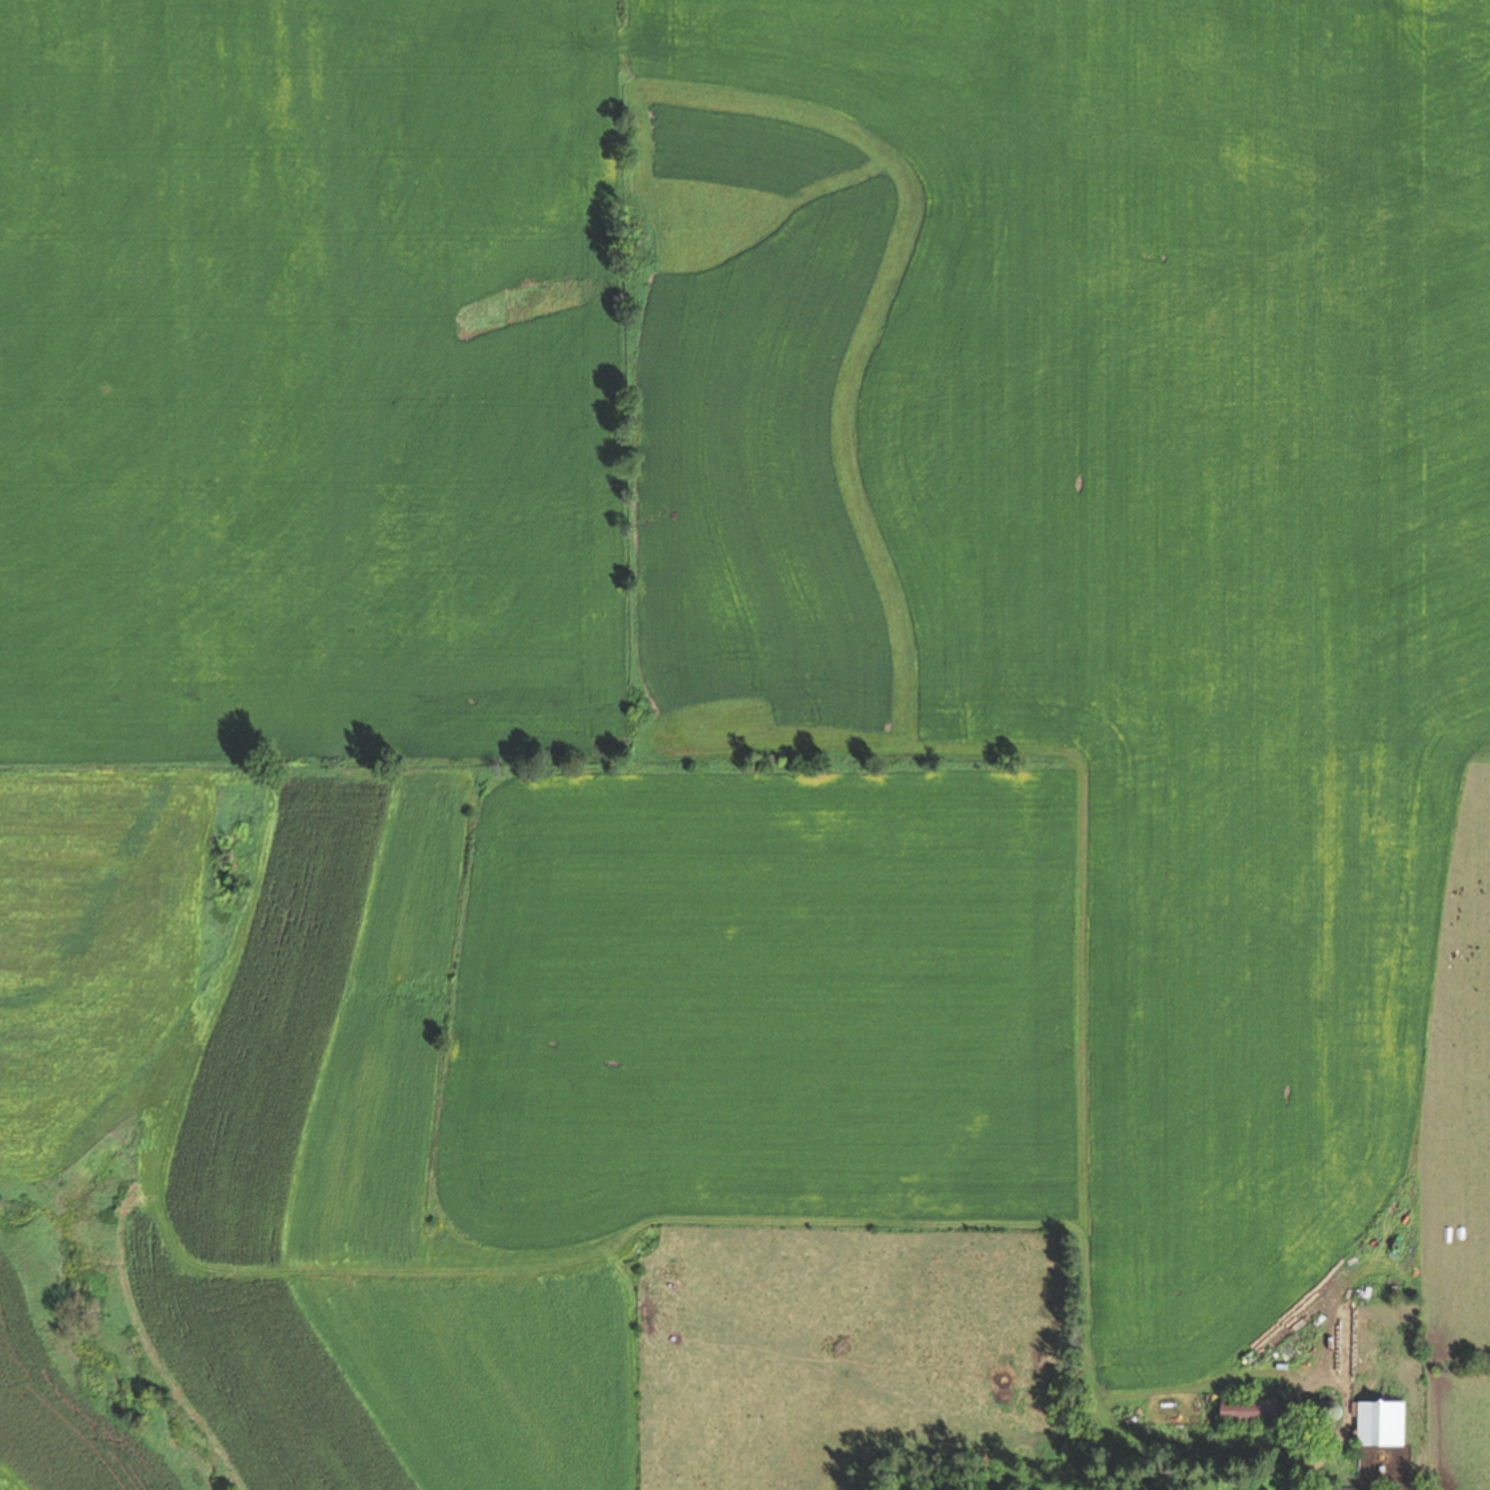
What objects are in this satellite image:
building: (1247, 1411)
building: (1327, 1411)
building: (1380, 1424)

